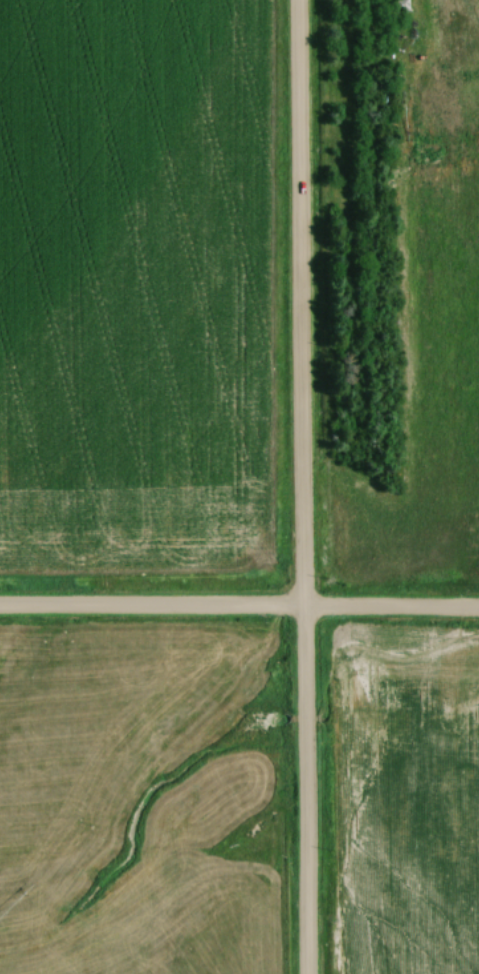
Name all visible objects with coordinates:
building: (399, 5)
road: (296, 487)
road: (239, 610)

